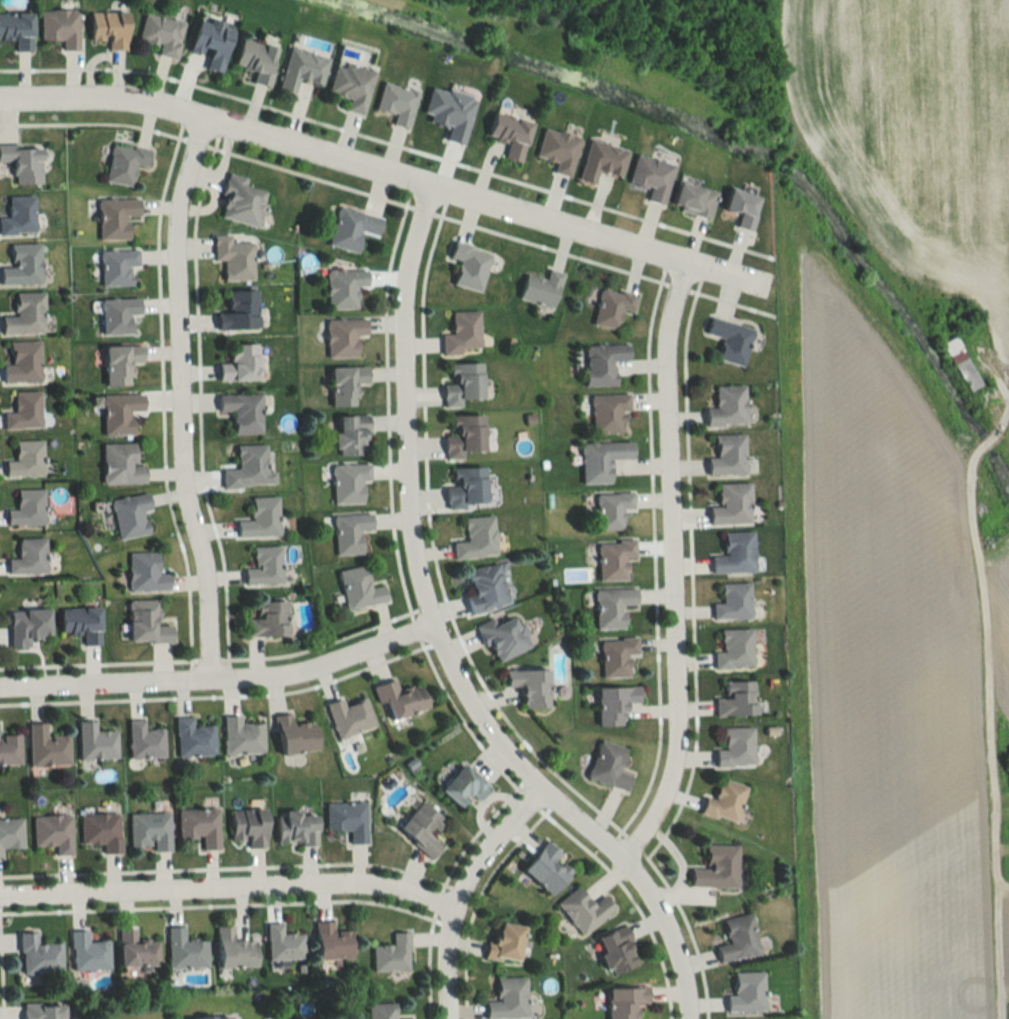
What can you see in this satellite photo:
building: (60, 28)
building: (110, 29)
building: (17, 30)
building: (162, 34)
building: (212, 42)
building: (257, 61)
building: (301, 69)
building: (351, 86)
building: (396, 103)
crop: (912, 132)
building: (510, 133)
building: (558, 149)
building: (602, 160)
building: (23, 161)
building: (125, 162)
road: (374, 171)
building: (651, 176)
building: (693, 199)
building: (240, 200)
building: (742, 206)
building: (18, 215)
building: (115, 217)
building: (351, 227)
building: (233, 257)
building: (22, 265)
building: (469, 265)
building: (117, 266)
building: (343, 287)
building: (541, 288)
building: (612, 307)
building: (238, 311)
building: (25, 314)
building: (118, 314)
building: (462, 332)
building: (343, 336)
building: (730, 340)
building: (22, 362)
building: (119, 363)
building: (240, 363)
building: (603, 363)
building: (962, 364)
building: (463, 383)
building: (346, 384)
road: (175, 399)
building: (728, 406)
building: (24, 411)
building: (241, 411)
building: (119, 412)
building: (609, 413)
building: (352, 434)
building: (464, 435)
building: (728, 455)
building: (26, 459)
building: (602, 459)
building: (120, 463)
building: (249, 468)
building: (349, 482)
building: (467, 486)
building: (732, 504)
building: (27, 507)
building: (612, 509)
building: (130, 514)
building: (260, 518)
building: (350, 531)
building: (476, 538)
building: (735, 553)
building: (29, 556)
building: (614, 559)
building: (264, 566)
road: (669, 568)
building: (145, 572)
building: (485, 587)
building: (359, 588)
building: (733, 602)
building: (613, 606)
building: (267, 619)
building: (146, 622)
building: (81, 623)
building: (28, 625)
building: (504, 636)
road: (433, 642)
building: (735, 649)
building: (617, 656)
road: (217, 679)
building: (529, 686)
crop: (898, 689)
building: (400, 698)
building: (737, 699)
building: (615, 704)
building: (348, 717)
building: (294, 735)
building: (241, 736)
building: (193, 739)
building: (144, 741)
building: (96, 742)
building: (47, 747)
building: (736, 748)
building: (10, 749)
building: (608, 766)
building: (464, 786)
building: (724, 802)
building: (347, 819)
building: (199, 826)
building: (248, 826)
building: (295, 828)
building: (422, 828)
building: (102, 831)
building: (149, 831)
building: (54, 832)
building: (11, 833)
building: (716, 867)
building: (547, 868)
road: (224, 892)
road: (456, 893)
building: (583, 909)
building: (737, 938)
building: (331, 941)
building: (282, 943)
building: (505, 943)
road: (994, 947)
building: (136, 949)
building: (233, 949)
building: (185, 950)
building: (616, 950)
building: (88, 952)
building: (391, 953)
building: (39, 955)
building: (746, 992)
building: (508, 999)
building: (624, 1001)
building: (380, 1010)
building: (1008, 1010)
building: (43, 1011)
building: (213, 1017)

